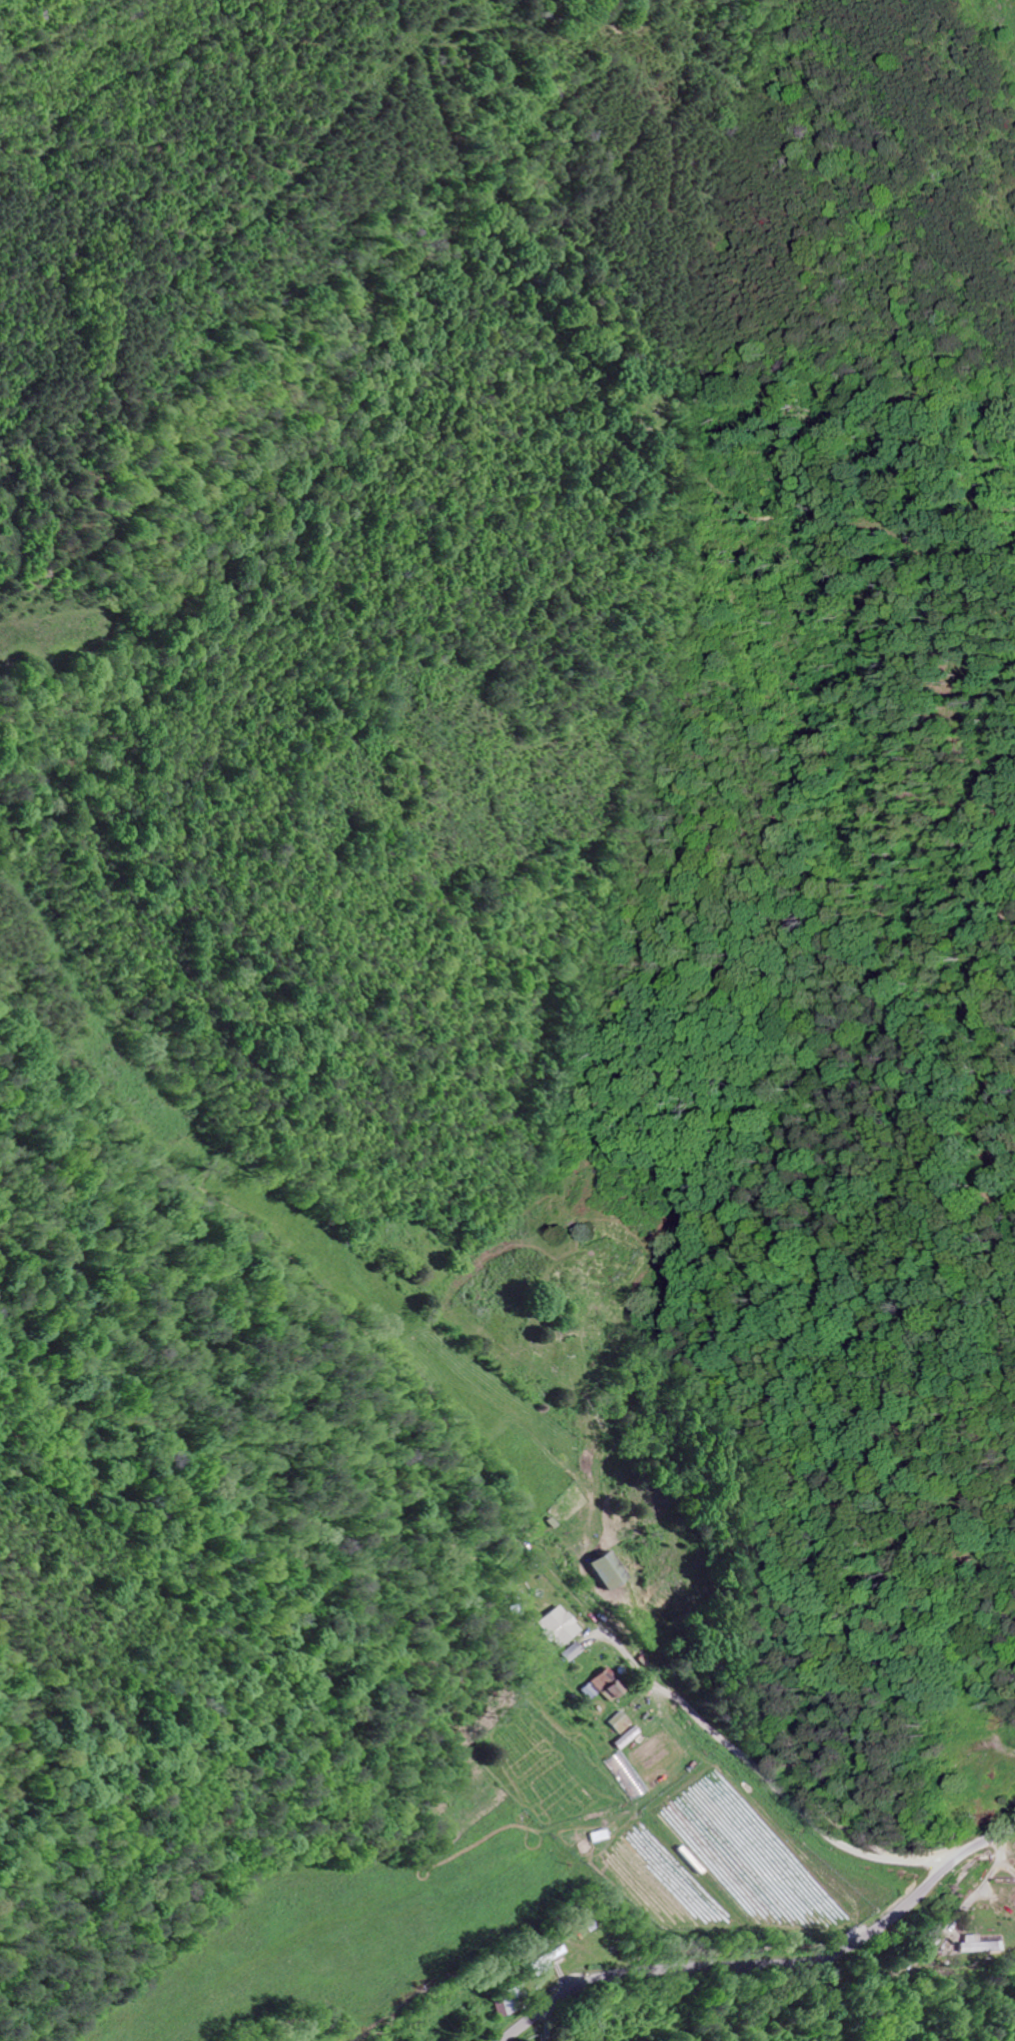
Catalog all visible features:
road: (527, 1542)
building: (602, 1569)
building: (558, 1626)
building: (572, 1652)
building: (616, 1723)
building: (628, 1735)
road: (1004, 1748)
road: (798, 1750)
road: (996, 1815)
road: (1007, 1861)
road: (981, 1882)
building: (978, 1944)
road: (773, 1963)
building: (504, 2002)

